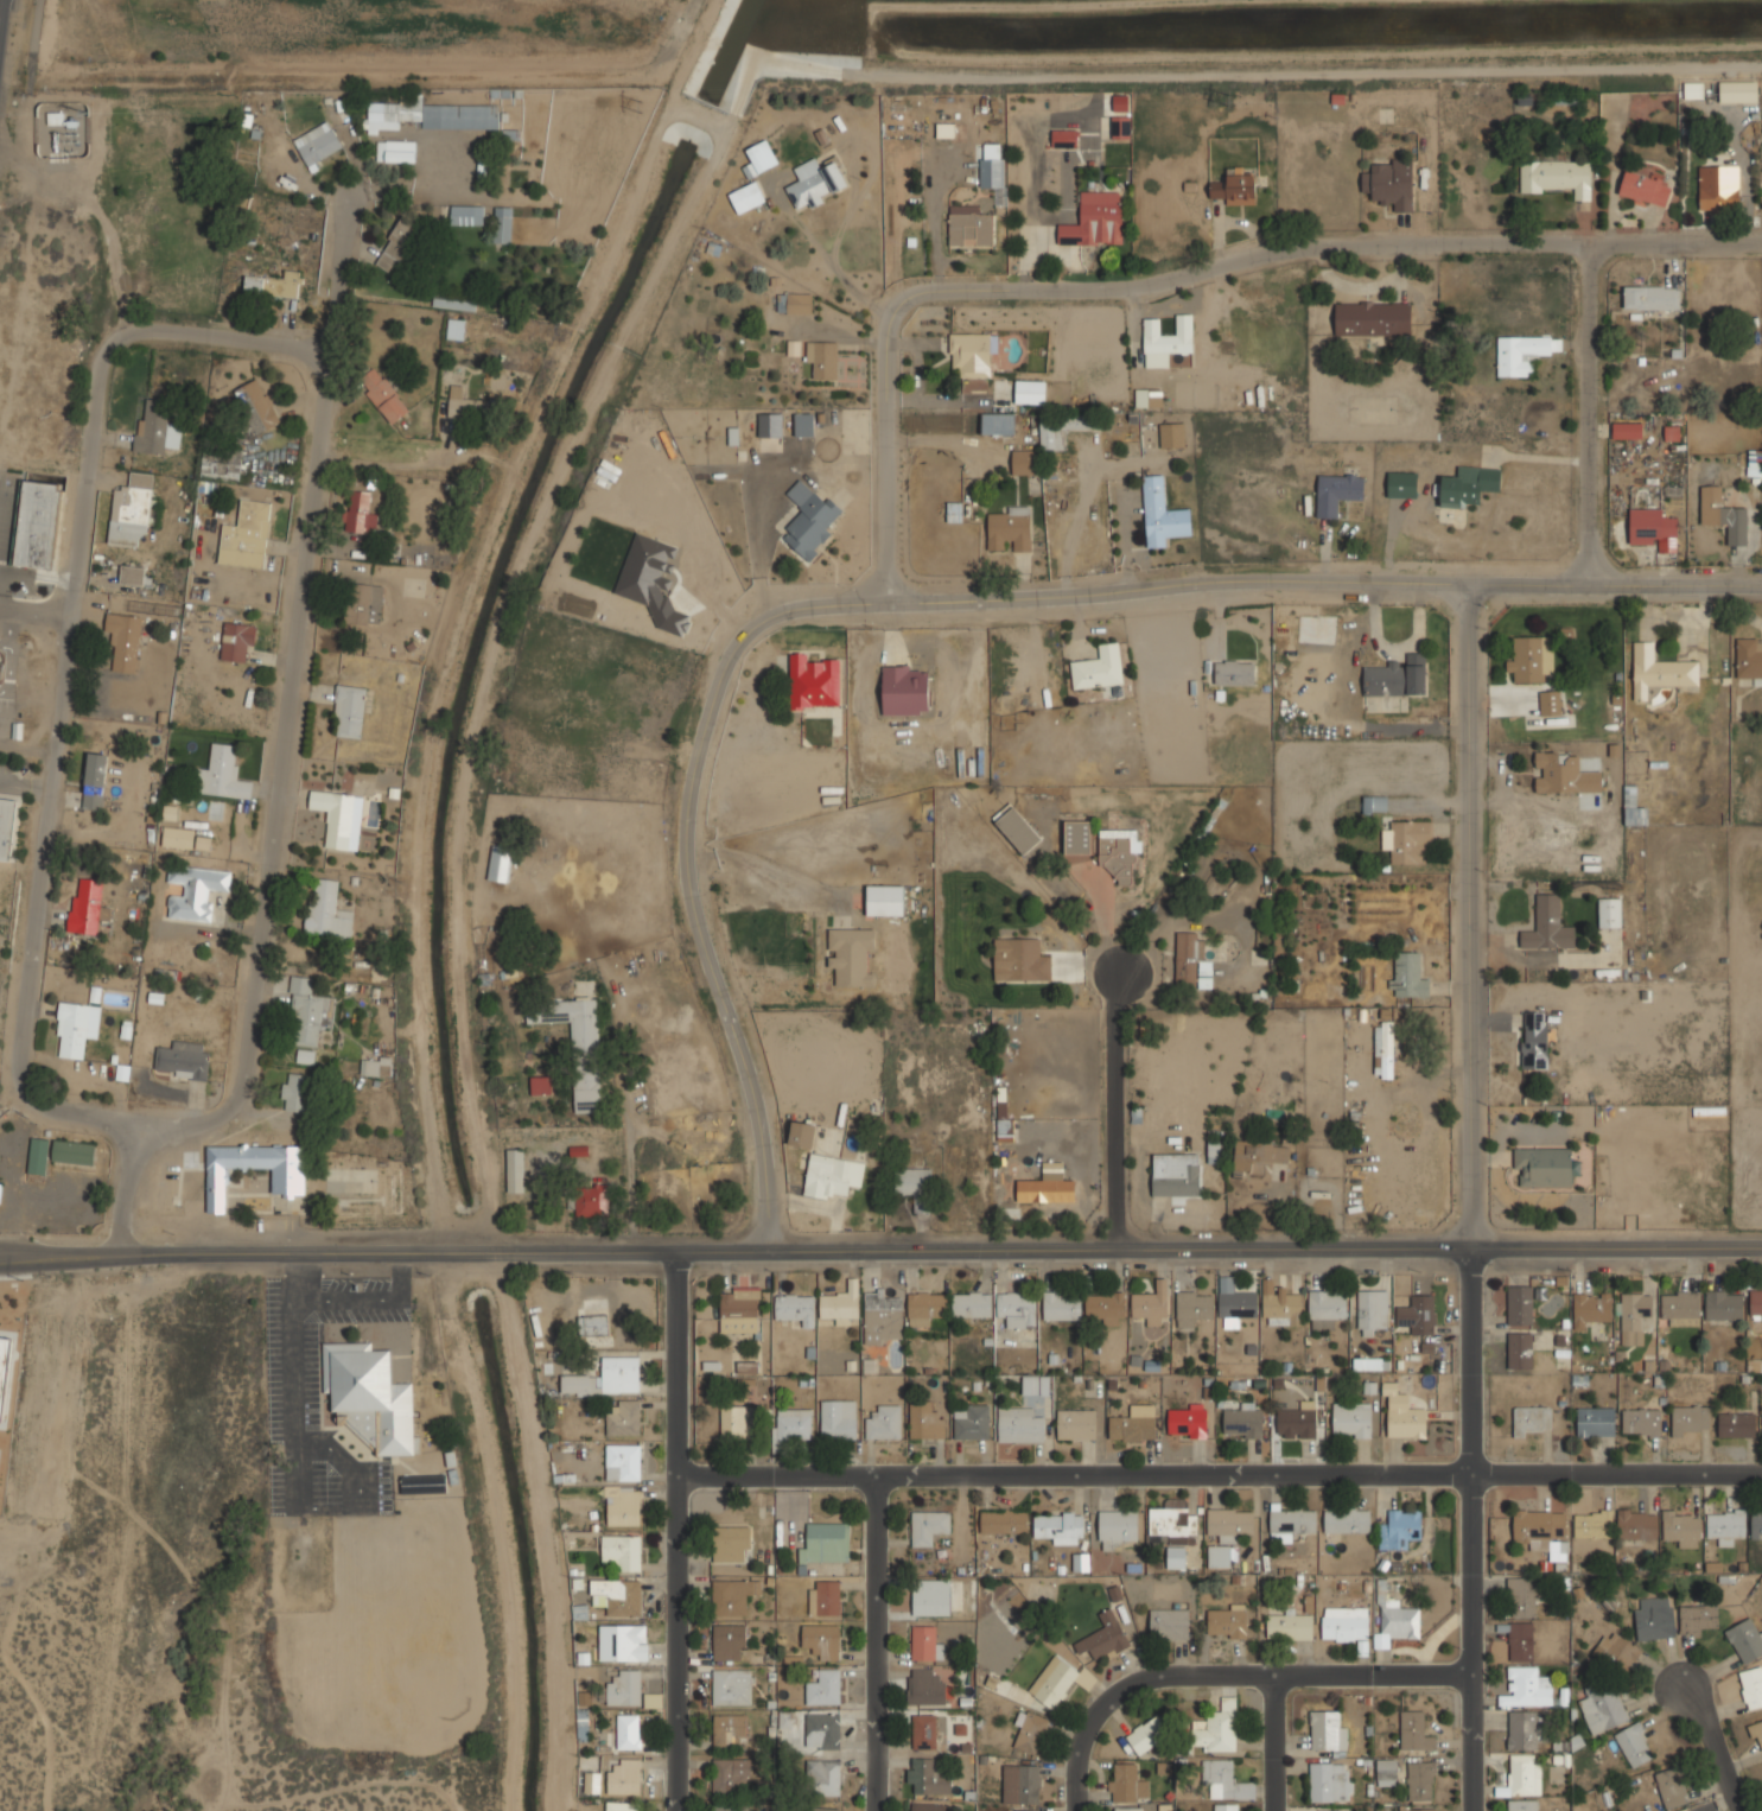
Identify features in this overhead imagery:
building: (1692, 90)
building: (1736, 91)
building: (392, 113)
building: (459, 116)
building: (1119, 127)
building: (944, 129)
power substation: (66, 131)
building: (1063, 138)
building: (317, 144)
building: (395, 151)
building: (992, 169)
building: (1557, 177)
building: (814, 183)
building: (1389, 184)
building: (1234, 188)
building: (1643, 188)
building: (1718, 188)
building: (745, 197)
building: (466, 215)
building: (1095, 220)
building: (502, 224)
building: (969, 229)
building: (395, 244)
road: (1177, 281)
building: (273, 285)
building: (1652, 297)
building: (794, 303)
building: (1373, 318)
building: (454, 329)
road: (217, 335)
building: (1166, 337)
building: (971, 352)
building: (1520, 352)
building: (822, 358)
building: (974, 385)
building: (1029, 390)
building: (383, 395)
building: (1149, 396)
building: (469, 405)
building: (255, 406)
road: (1599, 406)
building: (803, 424)
building: (997, 424)
building: (770, 425)
building: (1062, 427)
building: (155, 428)
building: (1627, 430)
building: (1172, 434)
building: (732, 436)
road: (381, 450)
building: (1023, 460)
building: (222, 464)
building: (1401, 484)
building: (1468, 484)
building: (1338, 490)
building: (954, 511)
building: (133, 513)
building: (358, 513)
building: (1162, 514)
building: (1723, 515)
building: (809, 520)
building: (37, 525)
building: (1009, 528)
building: (1652, 528)
building: (246, 535)
building: (132, 579)
building: (653, 582)
road: (1323, 585)
building: (363, 603)
road: (33, 605)
building: (125, 638)
building: (237, 641)
building: (1749, 656)
building: (1531, 657)
road: (9, 666)
building: (1099, 667)
road: (290, 668)
building: (1660, 669)
building: (1234, 673)
building: (1397, 676)
building: (814, 681)
building: (904, 688)
building: (1550, 701)
building: (349, 711)
road: (51, 736)
building: (96, 769)
building: (1564, 773)
building: (222, 774)
building: (93, 800)
building: (1373, 803)
building: (342, 819)
building: (6, 827)
building: (1017, 827)
building: (178, 837)
building: (1077, 837)
building: (1406, 840)
building: (1119, 851)
road: (695, 862)
building: (500, 863)
building: (195, 890)
building: (885, 898)
building: (87, 909)
building: (326, 910)
building: (1610, 913)
road: (1471, 914)
building: (1548, 924)
building: (851, 954)
building: (1025, 959)
building: (1191, 960)
building: (1407, 974)
building: (308, 1013)
building: (76, 1027)
building: (1534, 1040)
building: (577, 1046)
building: (1382, 1049)
building: (305, 1056)
building: (1399, 1059)
building: (183, 1060)
building: (376, 1067)
building: (541, 1085)
building: (294, 1092)
road: (1115, 1107)
building: (1004, 1123)
building: (801, 1133)
building: (1214, 1150)
building: (74, 1152)
road: (629, 1155)
building: (1259, 1155)
building: (38, 1157)
building: (1544, 1168)
building: (515, 1170)
building: (1176, 1174)
building: (826, 1175)
building: (287, 1181)
road: (128, 1184)
building: (914, 1186)
building: (1047, 1186)
building: (0, 1187)
building: (164, 1187)
building: (592, 1200)
building: (354, 1213)
road: (1615, 1246)
road: (1070, 1248)
road: (336, 1251)
road: (303, 1266)
road: (401, 1276)
road: (348, 1300)
building: (1756, 1301)
building: (1238, 1303)
building: (1281, 1303)
building: (1328, 1303)
building: (840, 1304)
building: (972, 1304)
building: (1062, 1304)
building: (1149, 1304)
building: (1724, 1304)
building: (1106, 1305)
building: (1194, 1305)
building: (1520, 1305)
building: (1680, 1305)
building: (795, 1307)
building: (925, 1307)
building: (1017, 1307)
building: (1591, 1308)
building: (1372, 1309)
building: (739, 1311)
building: (1423, 1314)
building: (883, 1316)
building: (1635, 1316)
building: (593, 1324)
building: (1520, 1349)
road: (1469, 1361)
road: (674, 1362)
building: (1367, 1364)
building: (748, 1366)
building: (7, 1374)
parking lot: (292, 1375)
building: (606, 1377)
building: (1036, 1384)
road: (295, 1394)
building: (369, 1396)
building: (624, 1417)
building: (839, 1418)
building: (924, 1419)
building: (1351, 1419)
building: (1532, 1419)
building: (1691, 1419)
building: (737, 1421)
building: (1297, 1421)
building: (1406, 1421)
building: (1596, 1421)
building: (884, 1422)
building: (1641, 1422)
building: (972, 1423)
building: (1076, 1423)
building: (1188, 1423)
building: (1242, 1423)
building: (793, 1424)
building: (1019, 1424)
building: (1736, 1424)
building: (1131, 1428)
building: (623, 1461)
road: (1616, 1474)
road: (1073, 1475)
building: (424, 1482)
road: (361, 1488)
building: (624, 1506)
building: (1293, 1519)
building: (1347, 1519)
building: (1003, 1520)
building: (1171, 1521)
building: (1229, 1523)
building: (1592, 1523)
building: (1637, 1524)
building: (1726, 1524)
building: (1756, 1524)
building: (928, 1526)
building: (1057, 1526)
building: (1539, 1526)
building: (1115, 1527)
building: (1683, 1527)
building: (1400, 1529)
building: (731, 1543)
building: (825, 1543)
building: (622, 1551)
building: (1219, 1556)
building: (1176, 1557)
building: (1080, 1561)
building: (617, 1596)
building: (732, 1597)
building: (823, 1597)
building: (1522, 1597)
building: (937, 1600)
building: (1655, 1619)
building: (1699, 1619)
building: (1169, 1622)
building: (1227, 1622)
building: (1397, 1622)
building: (1346, 1623)
building: (1290, 1626)
building: (1103, 1638)
building: (1747, 1639)
building: (821, 1640)
building: (1521, 1641)
road: (676, 1642)
building: (729, 1642)
road: (877, 1642)
road: (1478, 1642)
building: (623, 1644)
building: (924, 1644)
building: (1616, 1652)
road: (1234, 1677)
building: (1054, 1680)
building: (1751, 1685)
building: (823, 1686)
building: (924, 1686)
building: (731, 1688)
building: (1526, 1688)
building: (624, 1689)
building: (1603, 1708)
building: (1216, 1728)
building: (1329, 1729)
building: (629, 1730)
building: (822, 1730)
building: (1413, 1730)
building: (730, 1731)
building: (924, 1731)
building: (1030, 1731)
building: (1522, 1731)
building: (1757, 1735)
building: (1147, 1737)
road: (1277, 1743)
building: (1635, 1743)
road: (1712, 1753)
building: (1387, 1772)
building: (625, 1777)
building: (731, 1777)
building: (823, 1777)
building: (928, 1777)
building: (1522, 1777)
building: (1223, 1780)
building: (1420, 1780)
building: (1328, 1781)
building: (1022, 1784)
building: (1128, 1784)
building: (1671, 1787)
building: (1525, 1805)
building: (623, 1806)
building: (927, 1806)
building: (730, 1807)
building: (1227, 1807)
building: (1418, 1807)
building: (819, 1809)
building: (1023, 1810)
building: (1130, 1810)
building: (1329, 1810)

